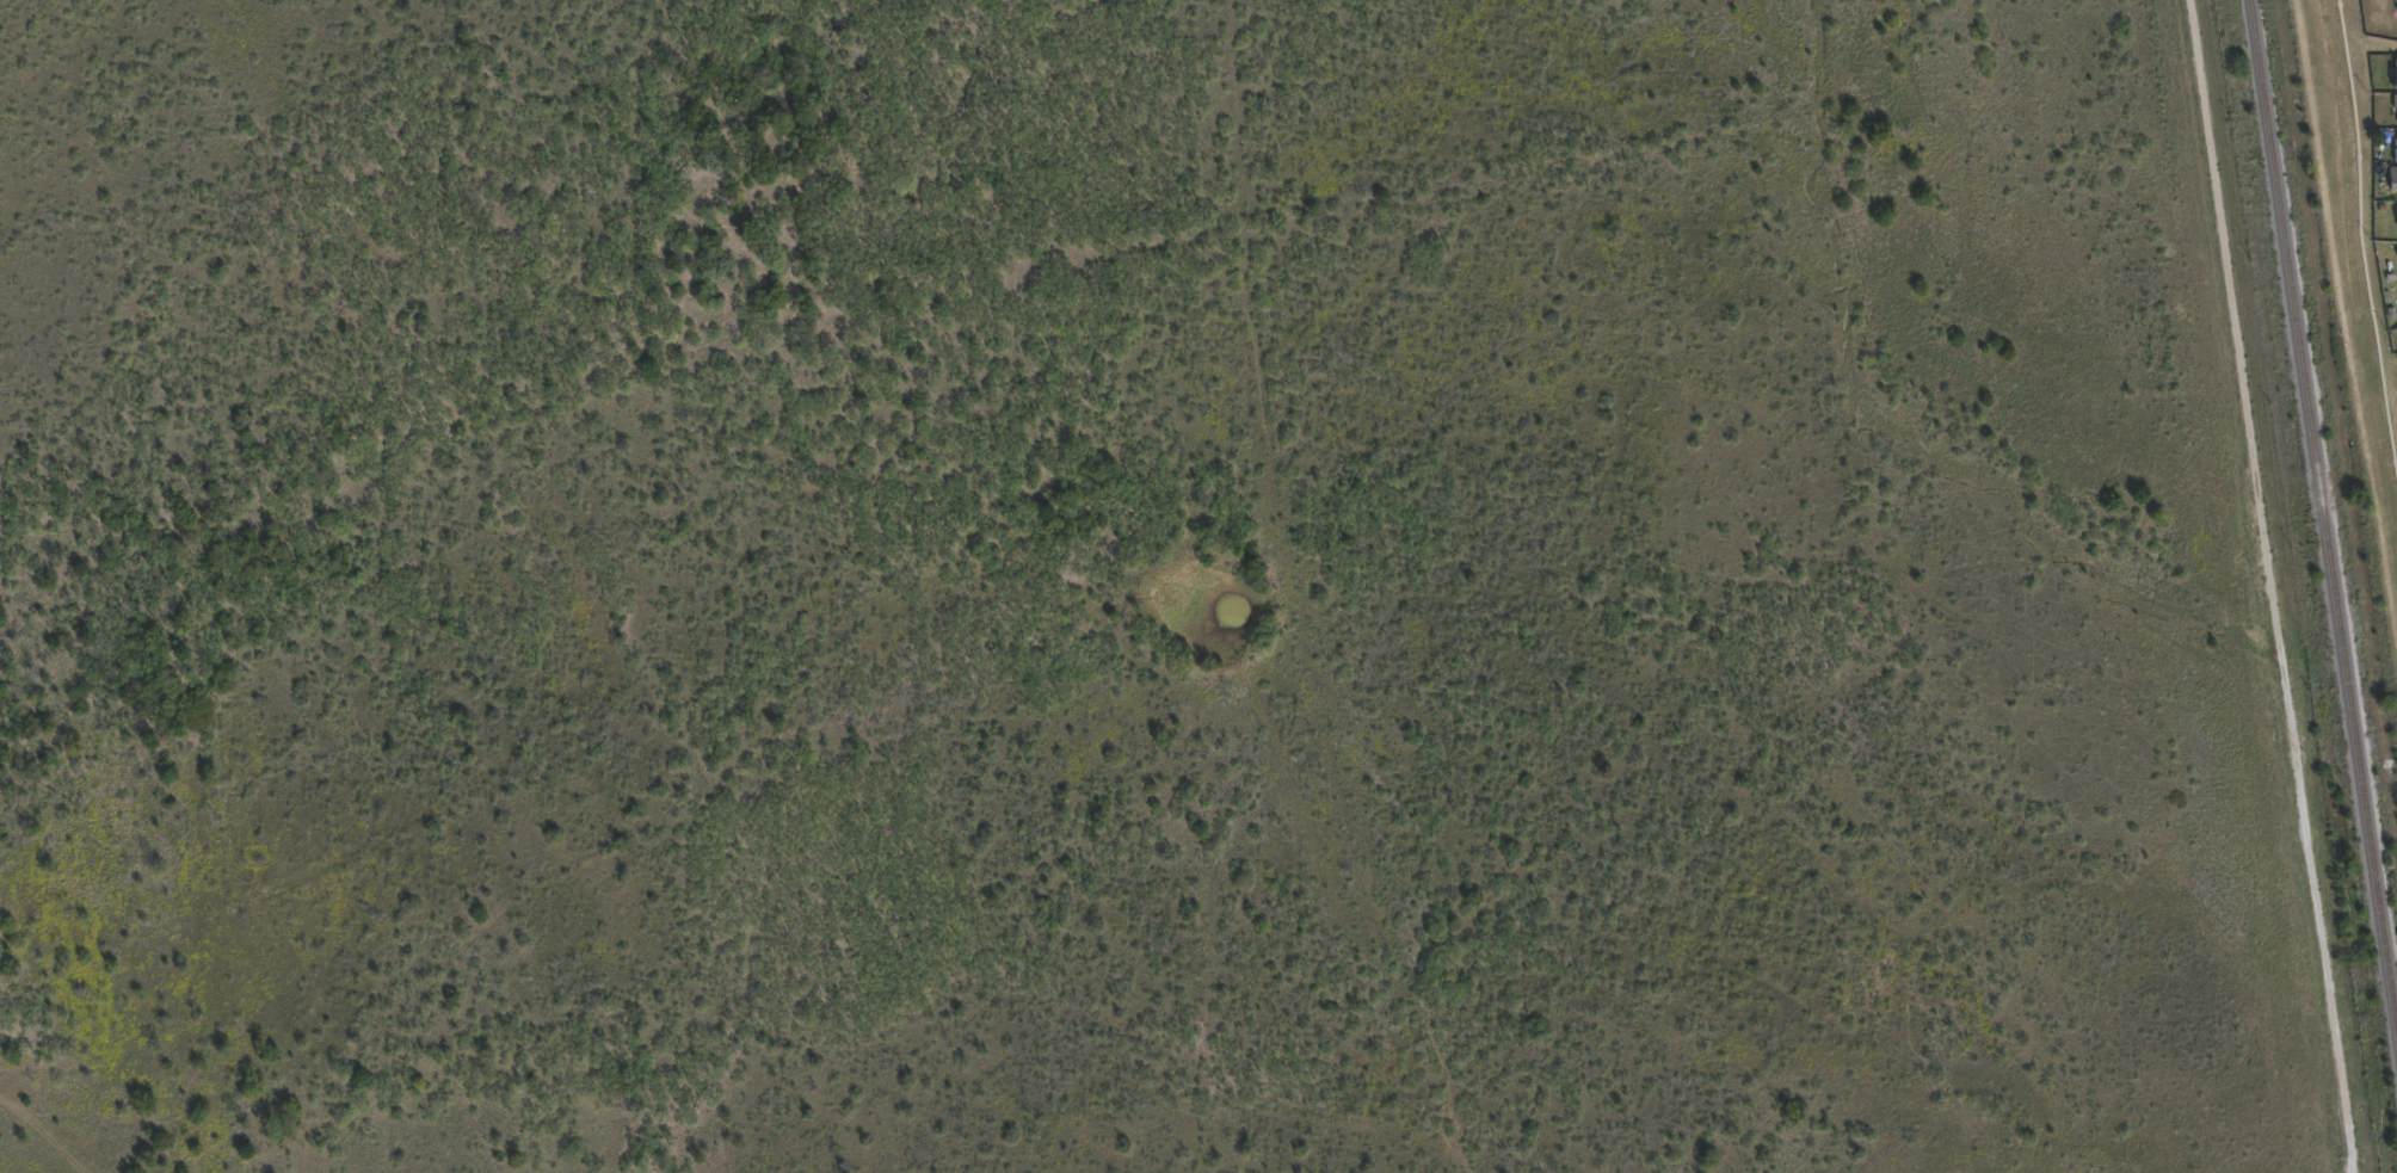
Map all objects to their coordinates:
building: (2396, 8)
building: (2395, 74)
building: (2395, 100)
building: (2396, 110)
building: (2395, 150)
building: (2393, 178)
road: (2361, 248)
railway: (2327, 500)
road: (2264, 586)

